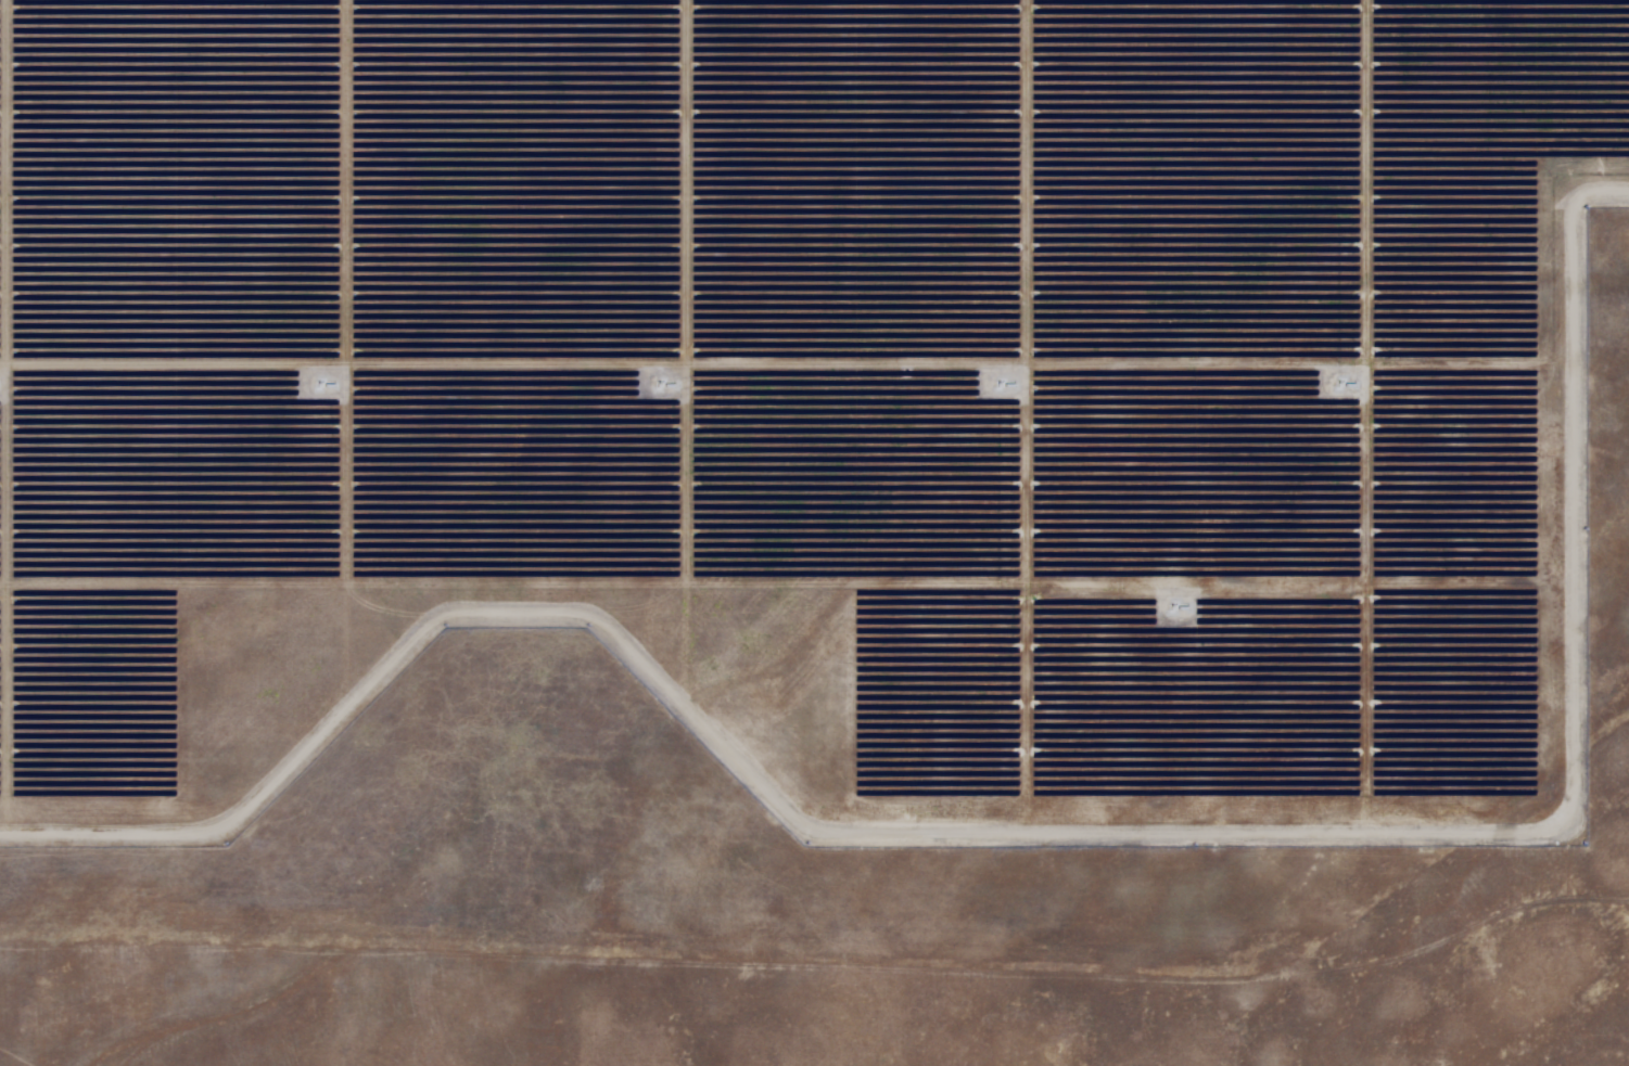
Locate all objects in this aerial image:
solar farm: (823, 510)

